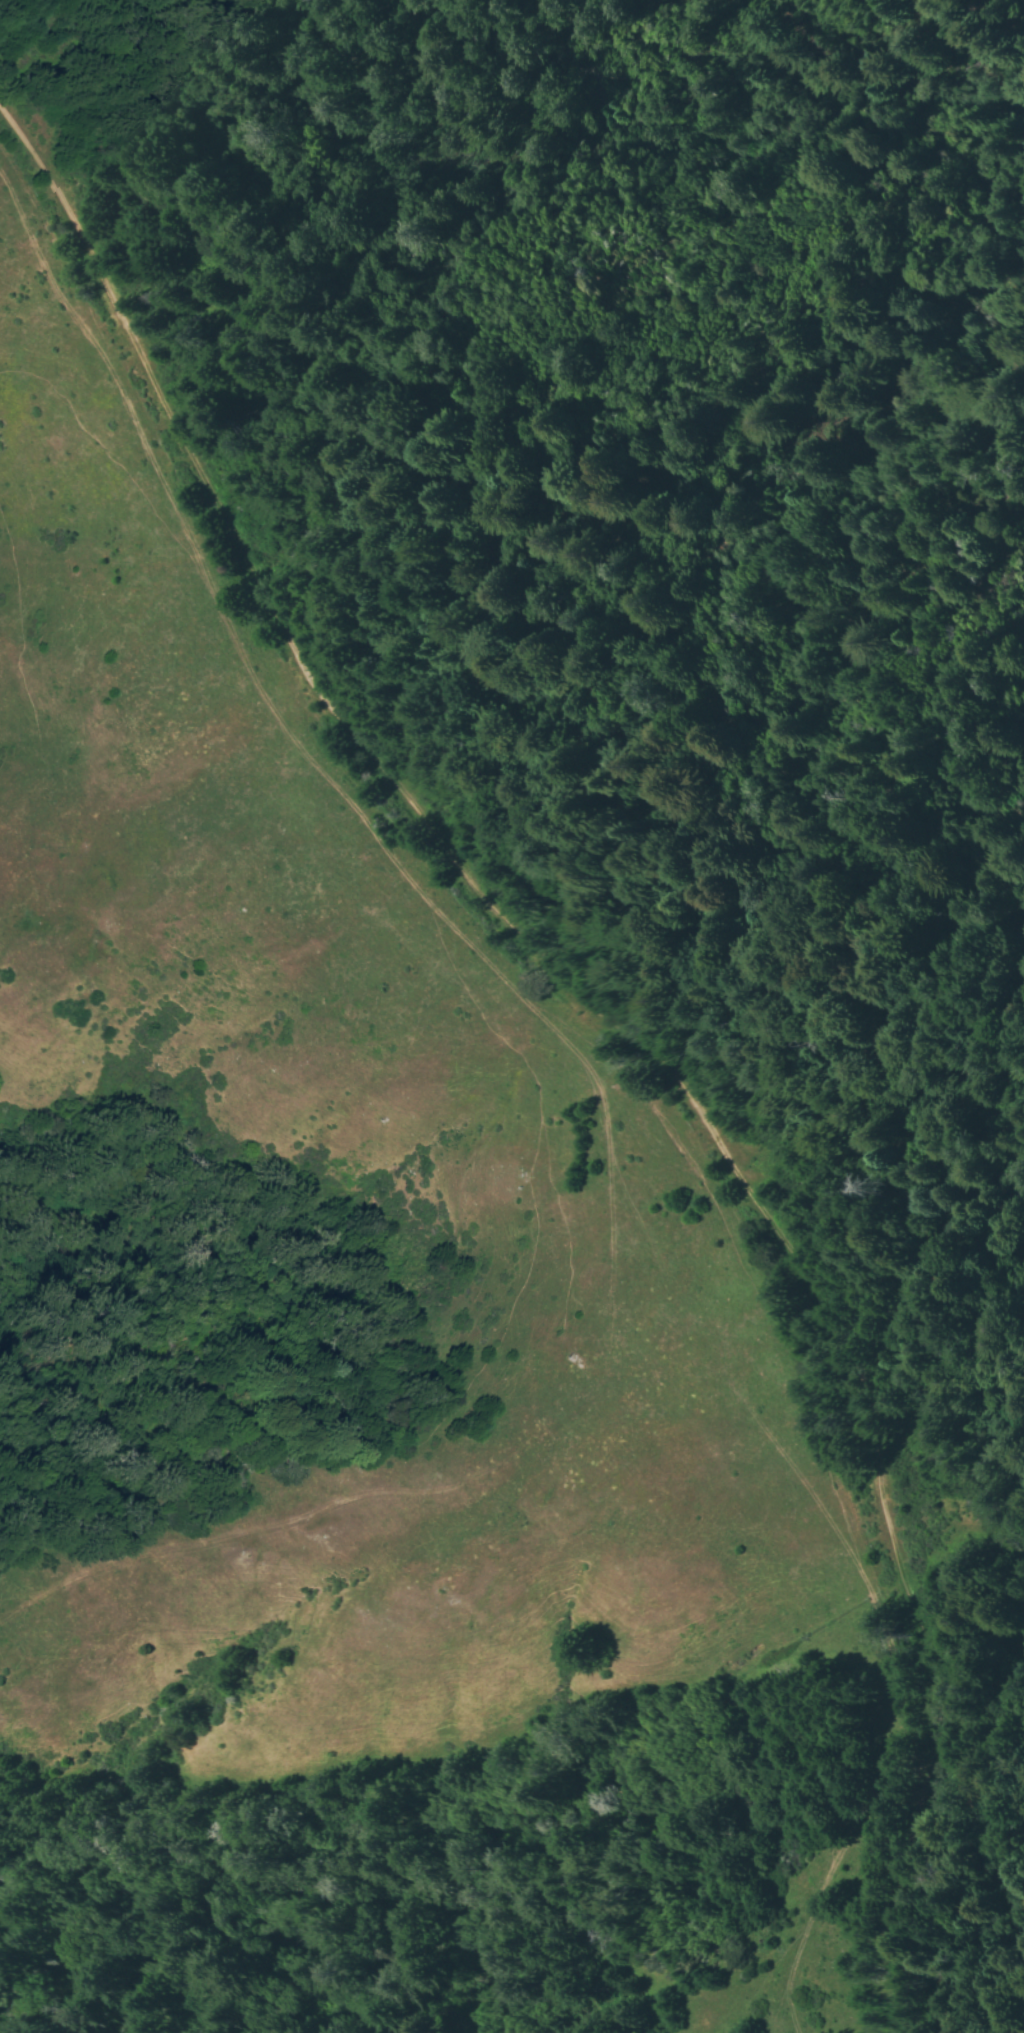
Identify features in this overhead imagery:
road: (605, 1024)
road: (527, 1442)
road: (844, 1534)
road: (779, 2003)

